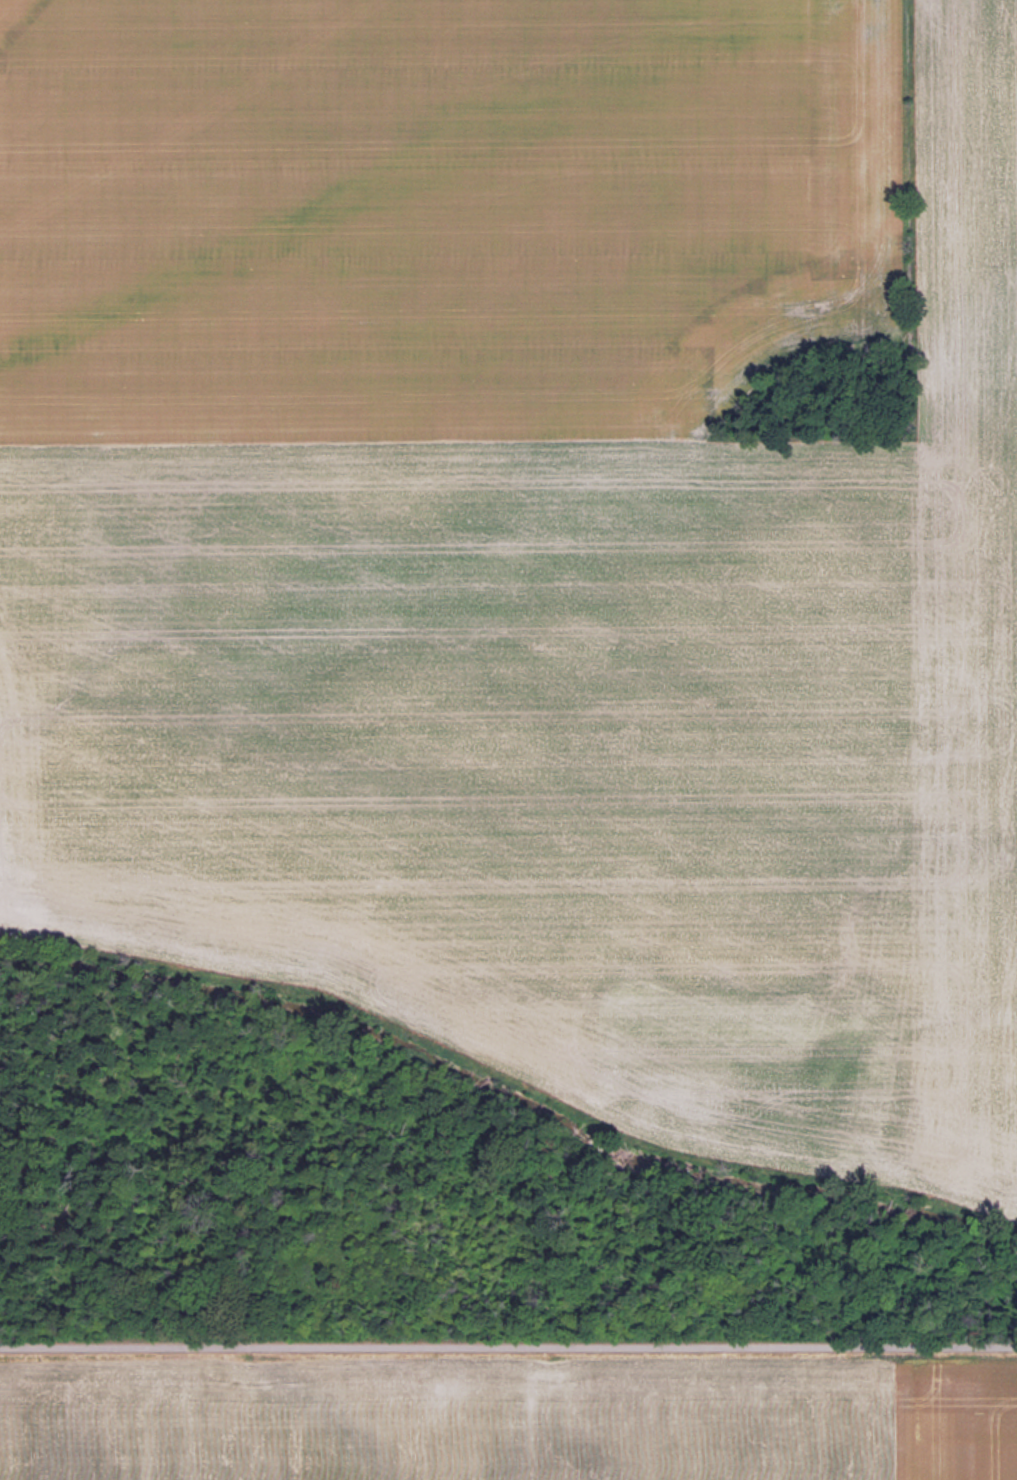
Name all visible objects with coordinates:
road: (508, 1344)

